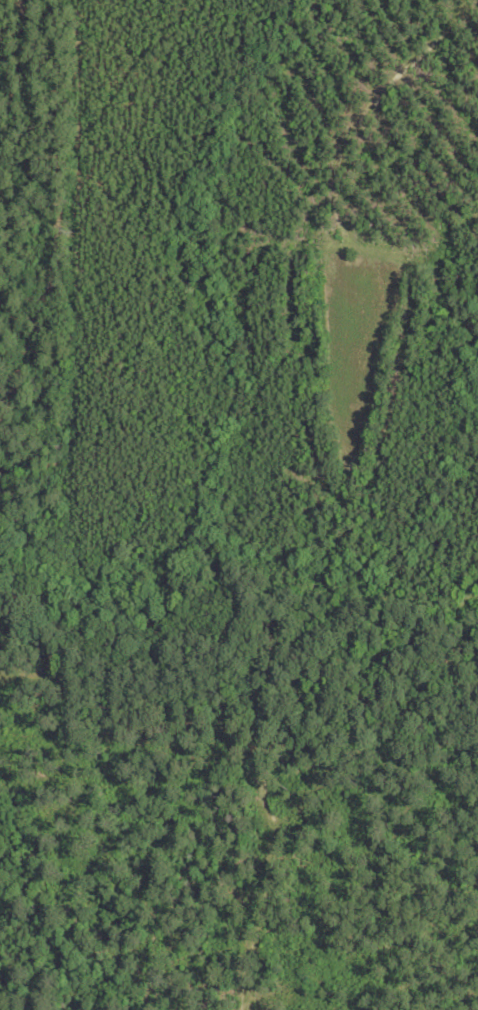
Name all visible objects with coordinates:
road: (274, 809)

